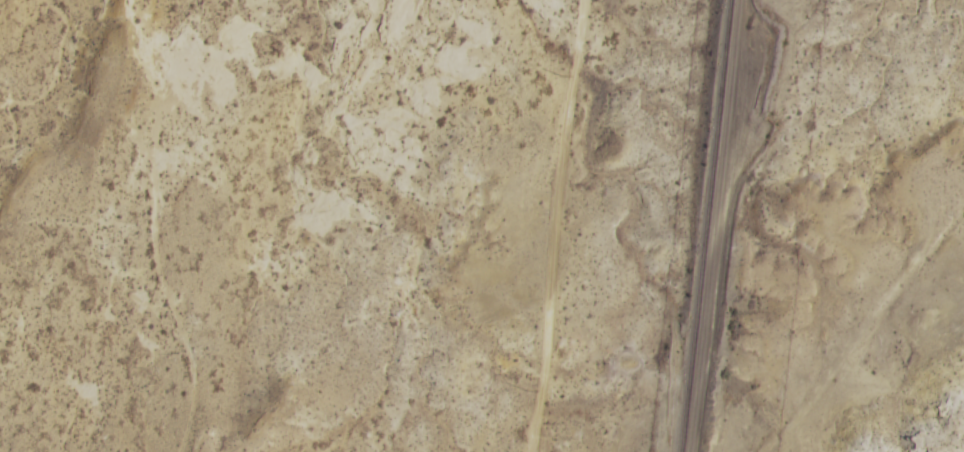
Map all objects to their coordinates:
road: (574, 226)
railway: (708, 226)

